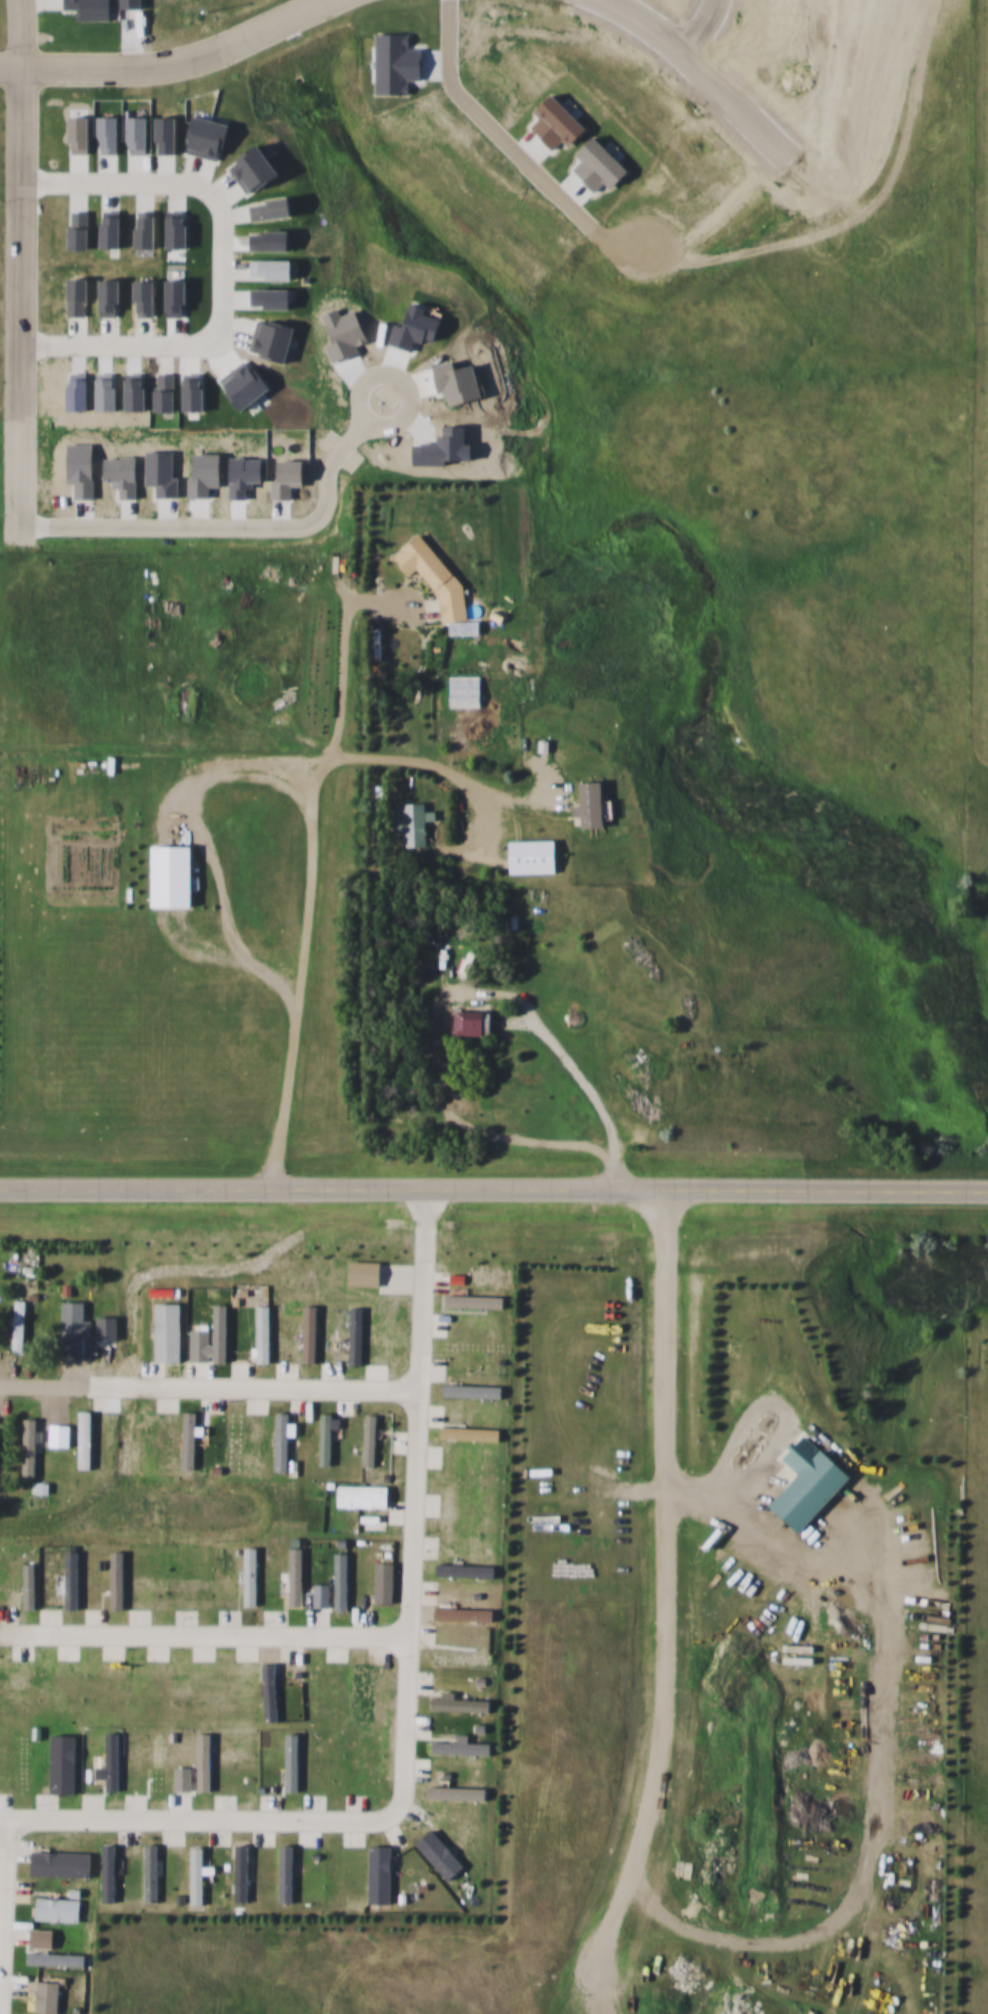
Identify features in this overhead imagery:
road: (159, 58)
road: (506, 142)
road: (8, 208)
road: (212, 262)
building: (460, 626)
building: (461, 691)
road: (442, 766)
building: (585, 803)
building: (408, 822)
road: (316, 838)
road: (230, 849)
building: (527, 856)
building: (166, 875)
road: (455, 995)
building: (468, 1022)
road: (494, 1187)
building: (20, 1325)
building: (75, 1330)
road: (39, 1381)
road: (242, 1384)
building: (31, 1441)
building: (41, 1487)
road: (401, 1499)
road: (654, 1607)
road: (198, 1630)
road: (190, 1814)

